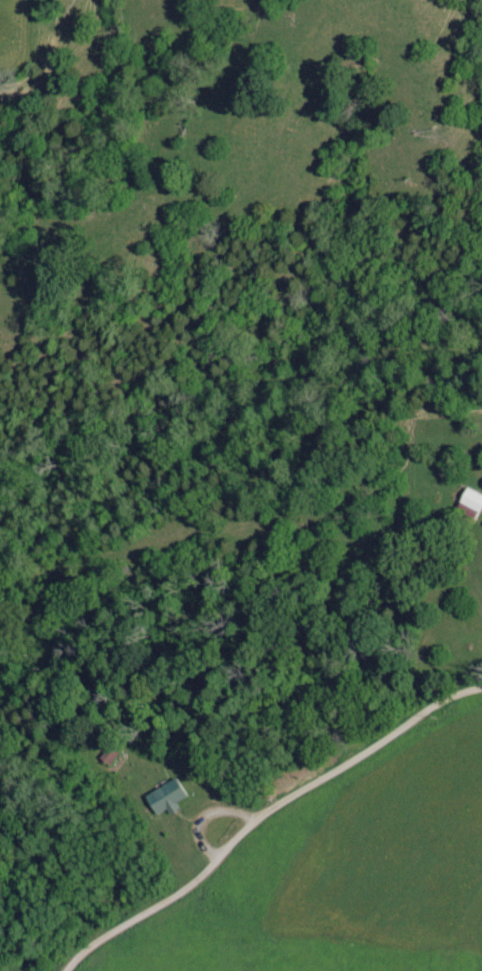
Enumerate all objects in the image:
building: (473, 501)
building: (110, 756)
building: (167, 798)
road: (270, 820)

